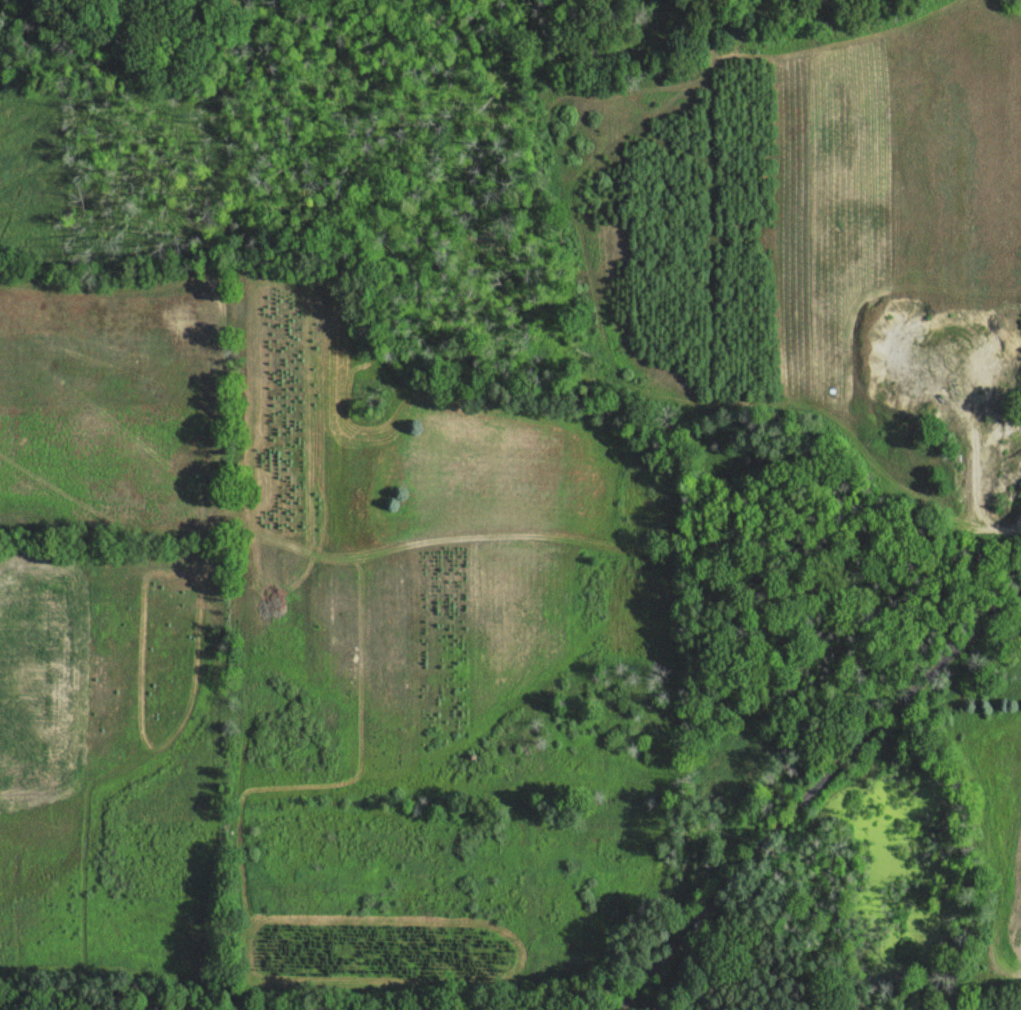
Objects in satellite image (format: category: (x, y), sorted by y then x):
road: (809, 792)

